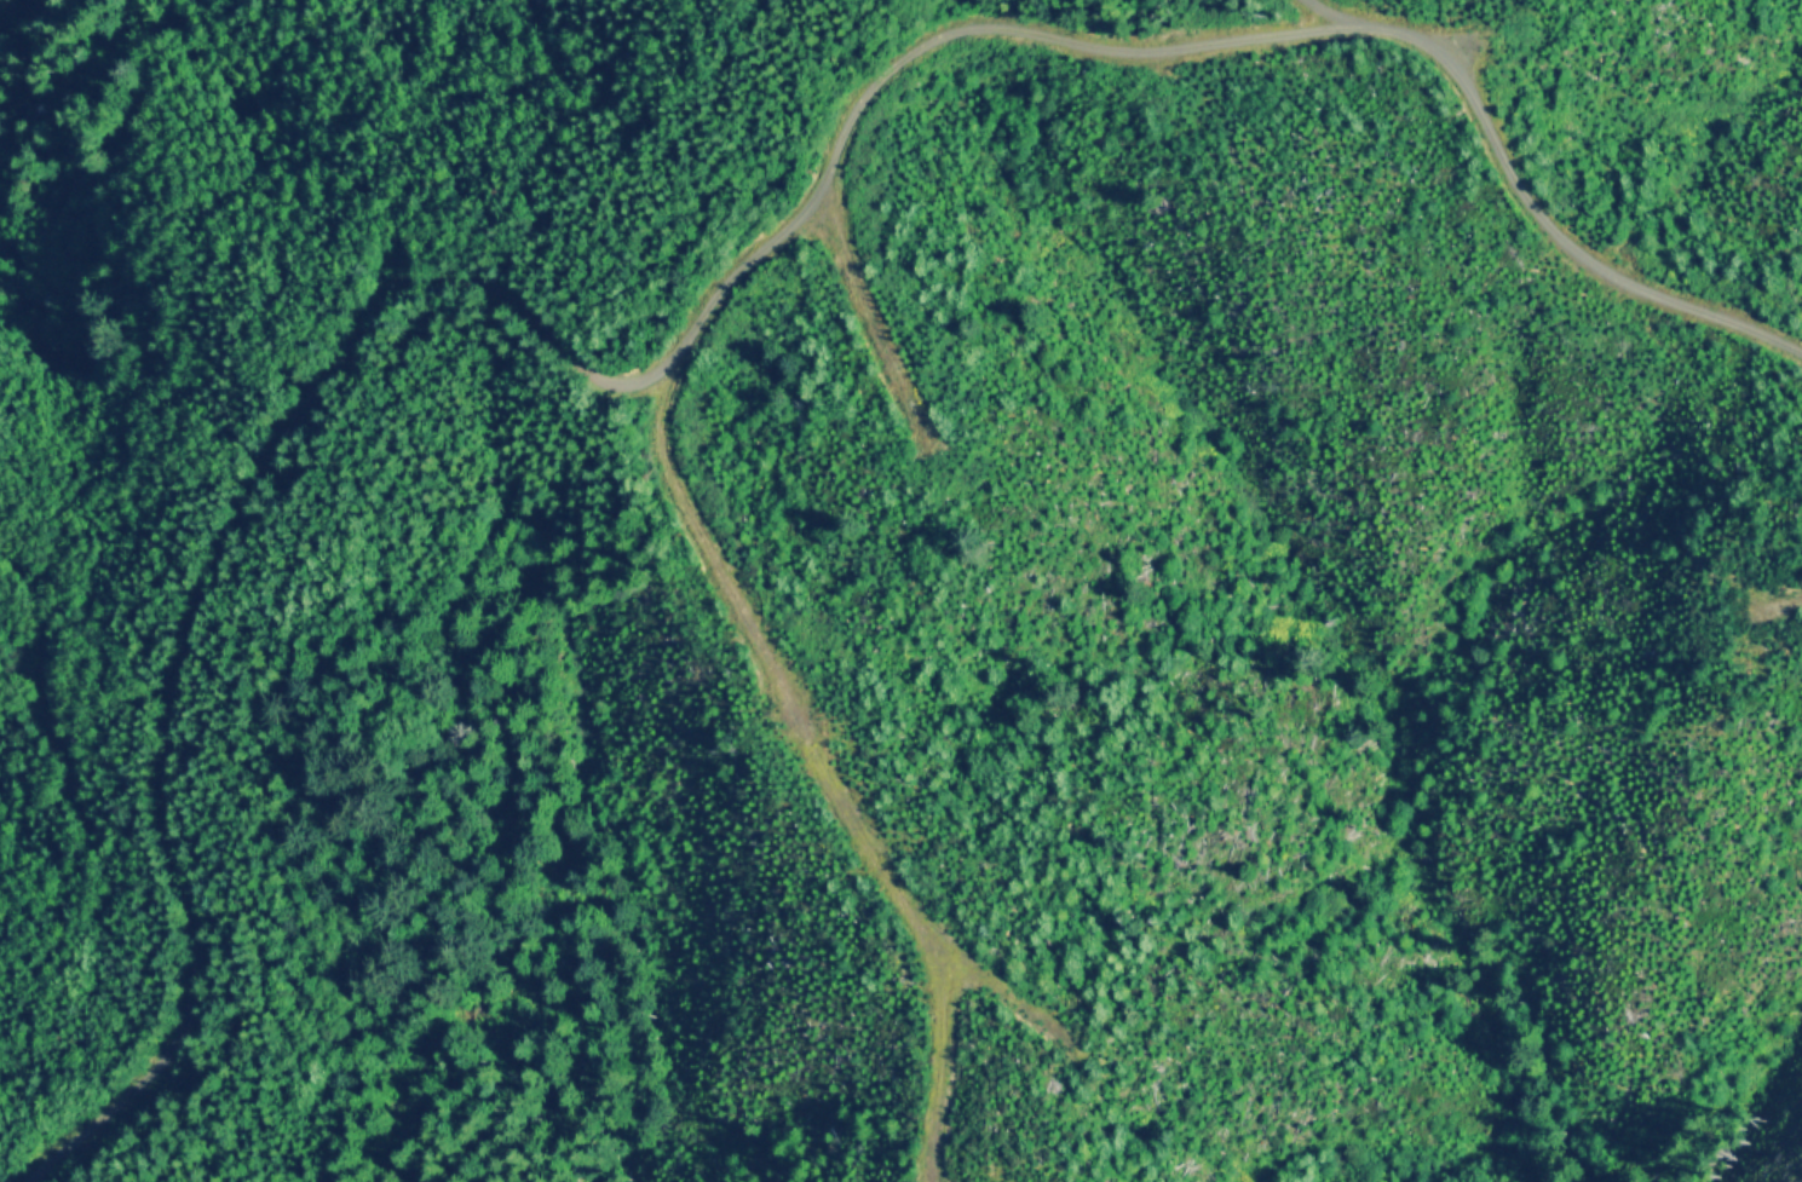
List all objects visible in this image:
road: (1535, 196)
road: (478, 279)
road: (70, 769)

